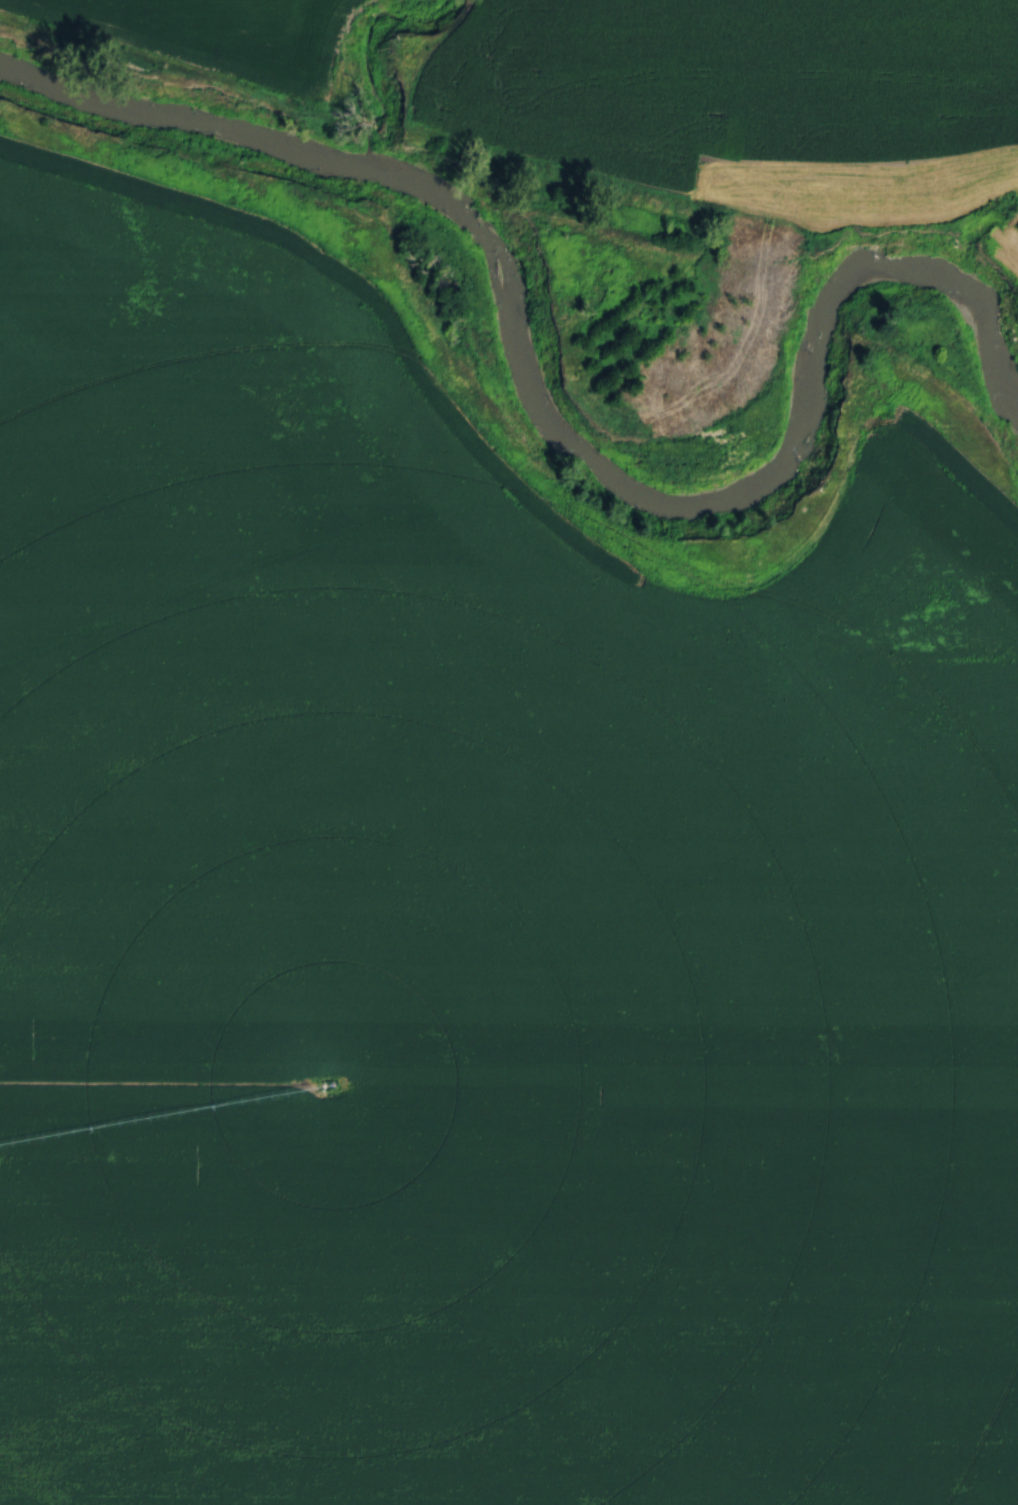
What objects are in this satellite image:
river: (553, 432)

